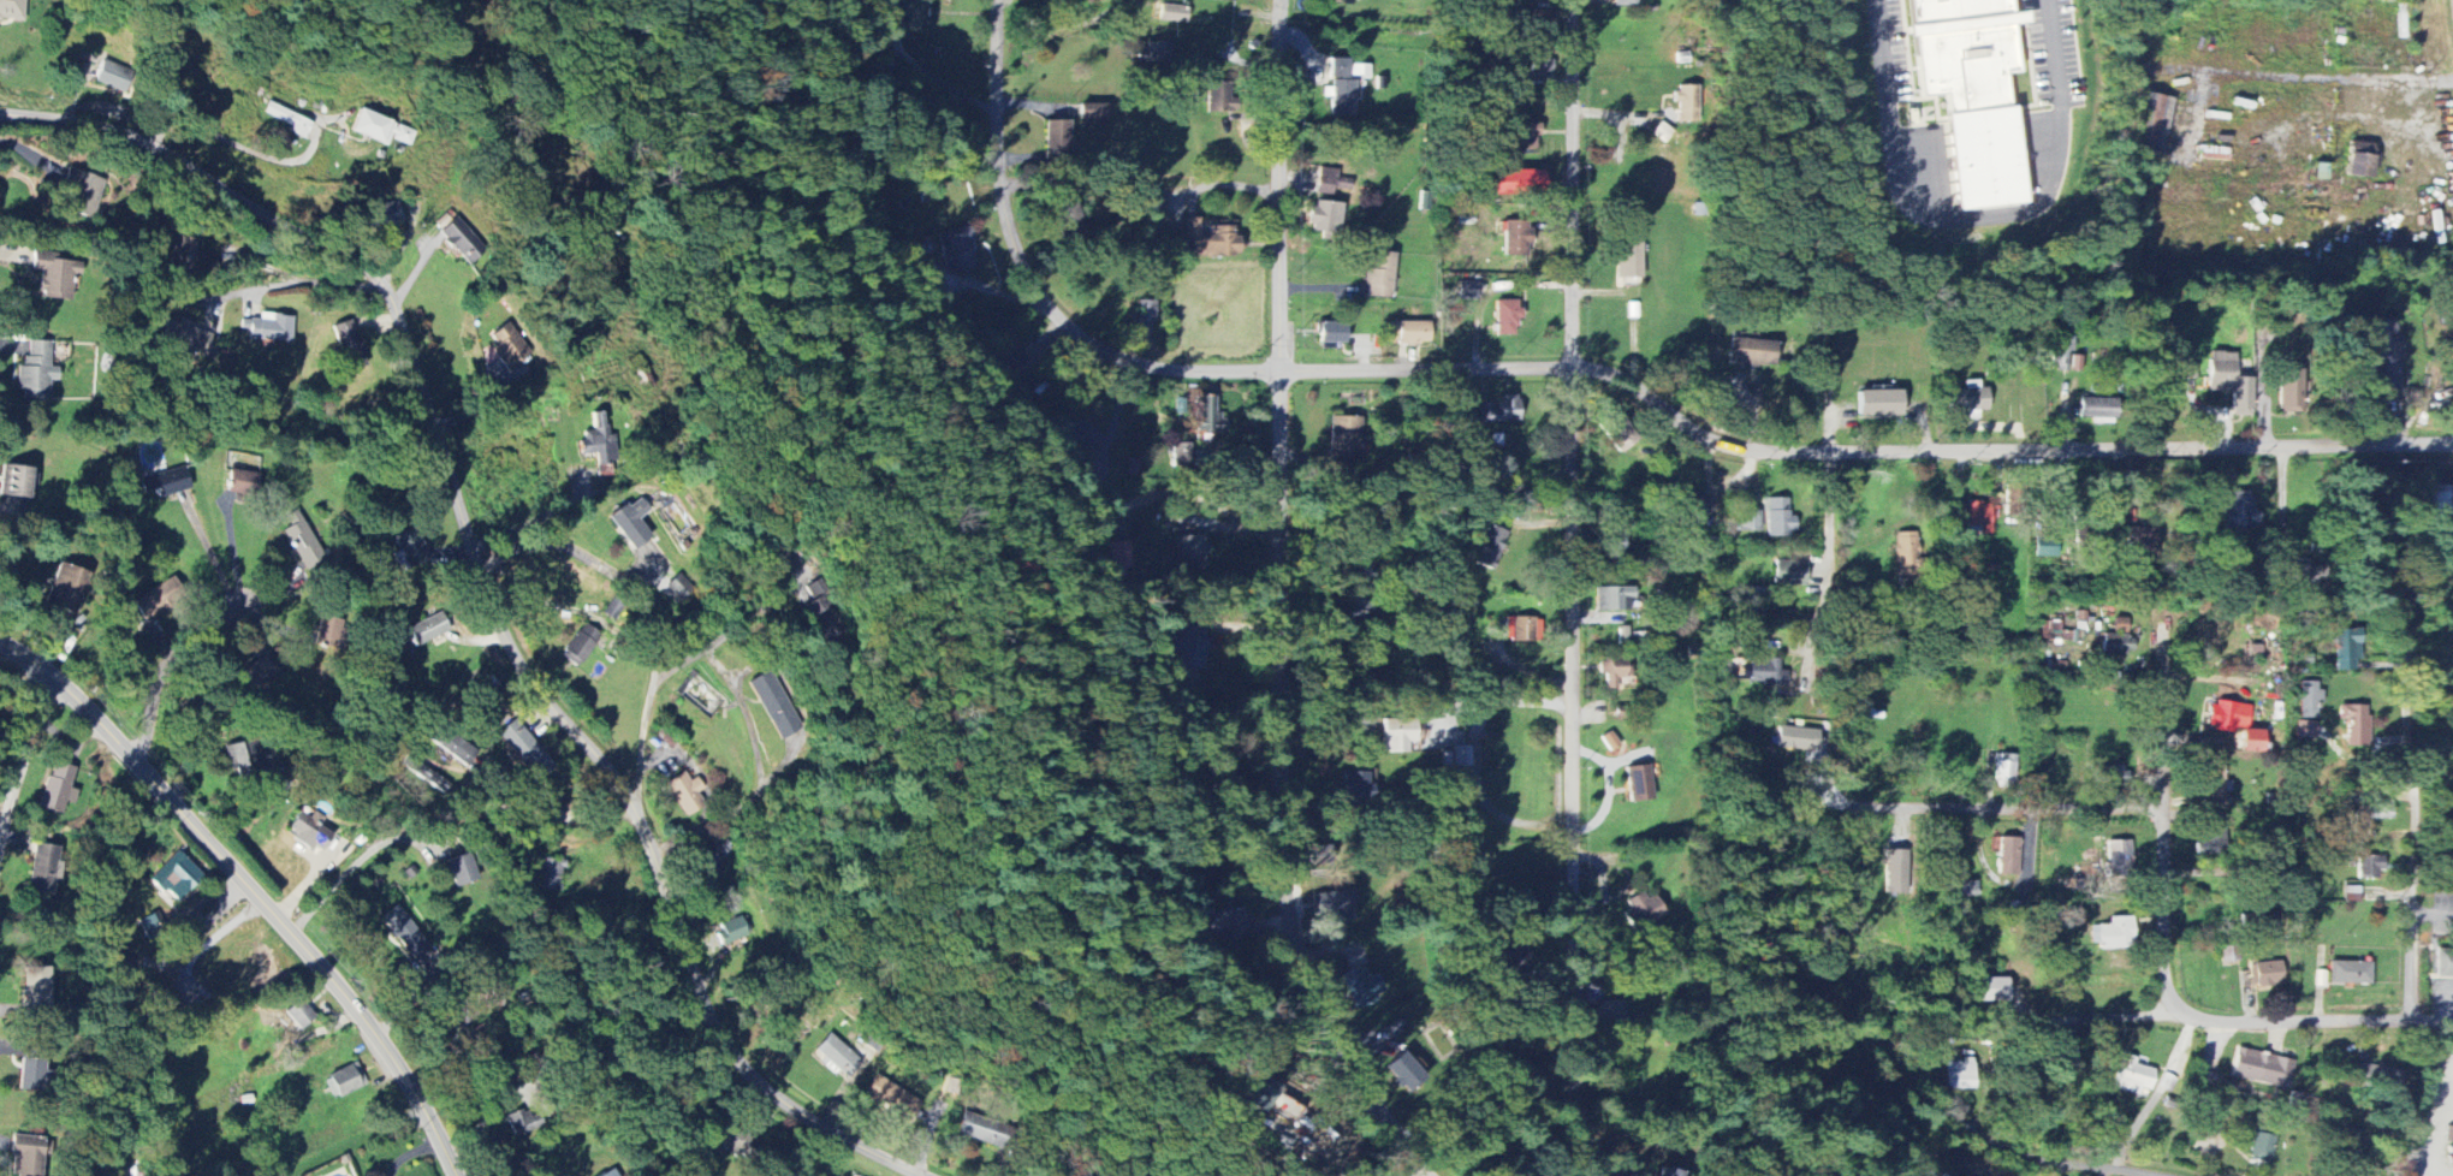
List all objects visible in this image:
building: (1625, 4)
building: (12, 10)
building: (1172, 14)
building: (911, 16)
building: (1540, 22)
building: (1156, 54)
building: (1359, 71)
building: (111, 77)
building: (1340, 88)
building: (1972, 94)
building: (1218, 101)
building: (1687, 105)
building: (1093, 115)
building: (289, 121)
building: (378, 130)
building: (1526, 137)
road: (227, 139)
building: (1056, 142)
building: (2360, 161)
building: (1330, 183)
building: (1517, 183)
building: (79, 194)
building: (384, 215)
building: (1324, 218)
road: (1977, 219)
building: (1065, 220)
building: (458, 238)
building: (1208, 242)
building: (1516, 244)
building: (956, 250)
building: (182, 255)
building: (1628, 259)
building: (54, 275)
building: (1379, 277)
road: (290, 285)
building: (1467, 292)
building: (1507, 319)
building: (1145, 322)
building: (267, 328)
building: (1331, 333)
building: (1409, 333)
building: (183, 337)
building: (509, 345)
building: (349, 346)
building: (1752, 352)
building: (2061, 352)
building: (1009, 355)
building: (2386, 358)
road: (1593, 369)
building: (35, 372)
building: (2231, 382)
building: (2291, 394)
building: (1968, 399)
building: (1879, 404)
building: (2097, 409)
building: (1501, 411)
building: (1207, 416)
road: (1116, 418)
building: (1074, 429)
building: (1620, 436)
building: (599, 445)
building: (1343, 445)
building: (1178, 456)
building: (13, 481)
building: (164, 483)
building: (239, 483)
building: (2440, 500)
building: (1695, 505)
building: (2240, 512)
building: (1777, 517)
building: (1978, 517)
road: (535, 518)
building: (1747, 521)
building: (630, 523)
road: (1829, 528)
building: (2144, 537)
building: (302, 541)
building: (1487, 547)
building: (2045, 547)
building: (410, 548)
road: (570, 551)
building: (1192, 552)
building: (1906, 553)
road: (210, 556)
building: (1119, 559)
building: (1789, 574)
building: (64, 588)
road: (1573, 588)
road: (486, 593)
building: (1610, 598)
building: (156, 599)
road: (1278, 605)
road: (572, 608)
road: (743, 614)
building: (2120, 625)
building: (427, 629)
building: (1520, 629)
building: (2054, 630)
building: (323, 631)
building: (580, 645)
building: (2115, 645)
building: (1189, 647)
building: (2347, 649)
road: (177, 661)
building: (1615, 673)
building: (254, 676)
building: (1769, 676)
road: (733, 687)
road: (449, 688)
building: (2310, 700)
road: (189, 701)
building: (2235, 724)
building: (2357, 724)
building: (2305, 730)
building: (1396, 735)
building: (1795, 738)
building: (1609, 741)
building: (452, 747)
building: (523, 749)
building: (239, 755)
building: (1455, 758)
road: (22, 768)
building: (417, 771)
building: (2004, 771)
building: (2112, 776)
building: (1638, 784)
building: (2214, 784)
building: (1356, 786)
building: (57, 788)
building: (685, 794)
road: (2003, 810)
building: (2375, 810)
road: (2409, 812)
road: (2163, 827)
building: (308, 828)
building: (2006, 855)
building: (2119, 857)
building: (717, 860)
road: (355, 866)
building: (2369, 868)
building: (42, 871)
building: (461, 871)
building: (1897, 871)
building: (547, 875)
building: (176, 878)
building: (1967, 889)
road: (251, 890)
building: (2352, 895)
building: (1331, 905)
building: (1641, 911)
building: (1228, 926)
building: (732, 931)
building: (404, 932)
building: (2114, 934)
building: (1515, 957)
building: (2443, 964)
building: (2350, 973)
building: (2264, 974)
building: (35, 987)
building: (1361, 987)
building: (1988, 990)
building: (1609, 1014)
building: (297, 1015)
road: (2098, 1020)
road: (2304, 1026)
building: (2066, 1053)
building: (837, 1056)
building: (2262, 1069)
building: (29, 1073)
building: (1404, 1073)
building: (1959, 1075)
building: (2133, 1076)
building: (2380, 1079)
building: (346, 1080)
building: (891, 1098)
building: (1270, 1100)
road: (485, 1117)
building: (522, 1122)
building: (980, 1130)
building: (2262, 1144)
building: (738, 1145)
building: (25, 1157)
road: (2049, 1158)
building: (1668, 1172)
building: (608, 1174)
building: (1946, 1175)

